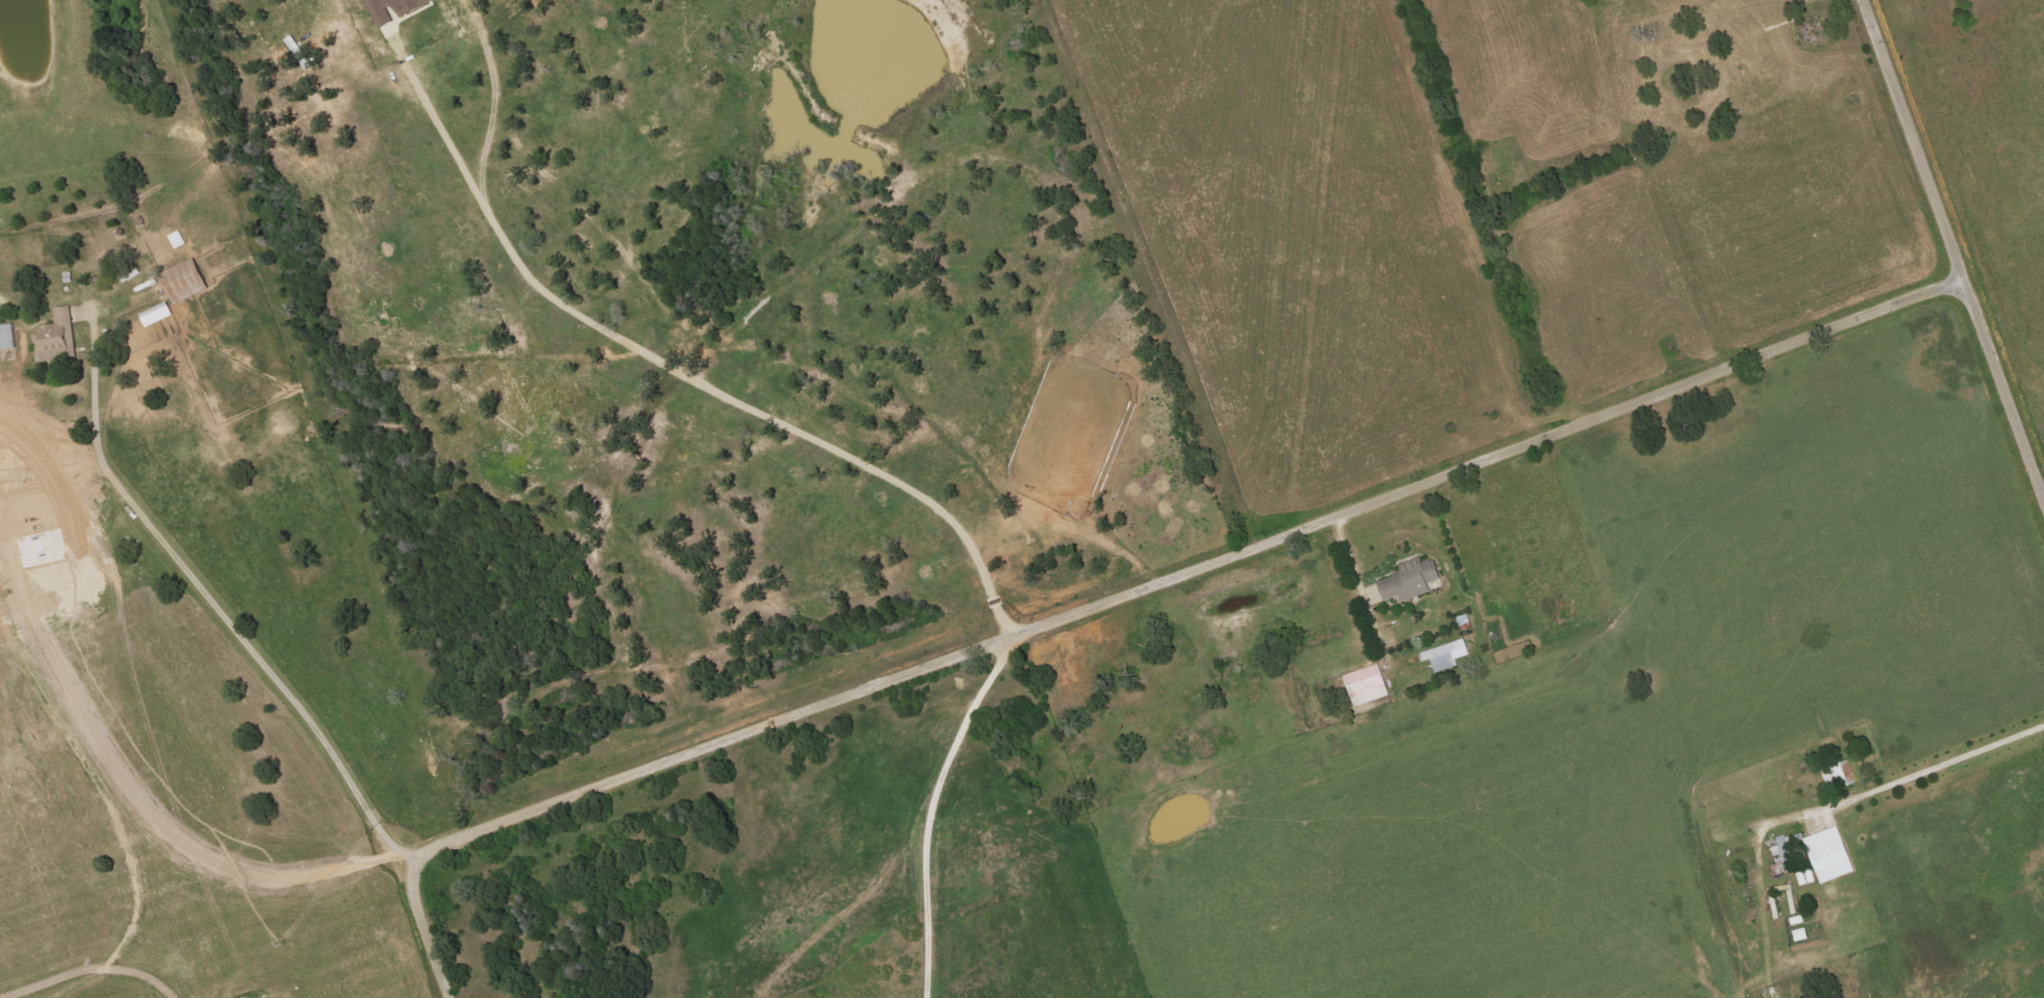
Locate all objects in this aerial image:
building: (394, 13)
road: (1951, 253)
building: (185, 280)
road: (1211, 285)
building: (157, 313)
building: (7, 335)
building: (56, 336)
road: (666, 374)
road: (1347, 561)
building: (1411, 580)
road: (211, 594)
road: (1120, 600)
building: (1446, 655)
building: (1367, 684)
road: (1933, 768)
building: (1840, 775)
road: (929, 811)
building: (1831, 854)

